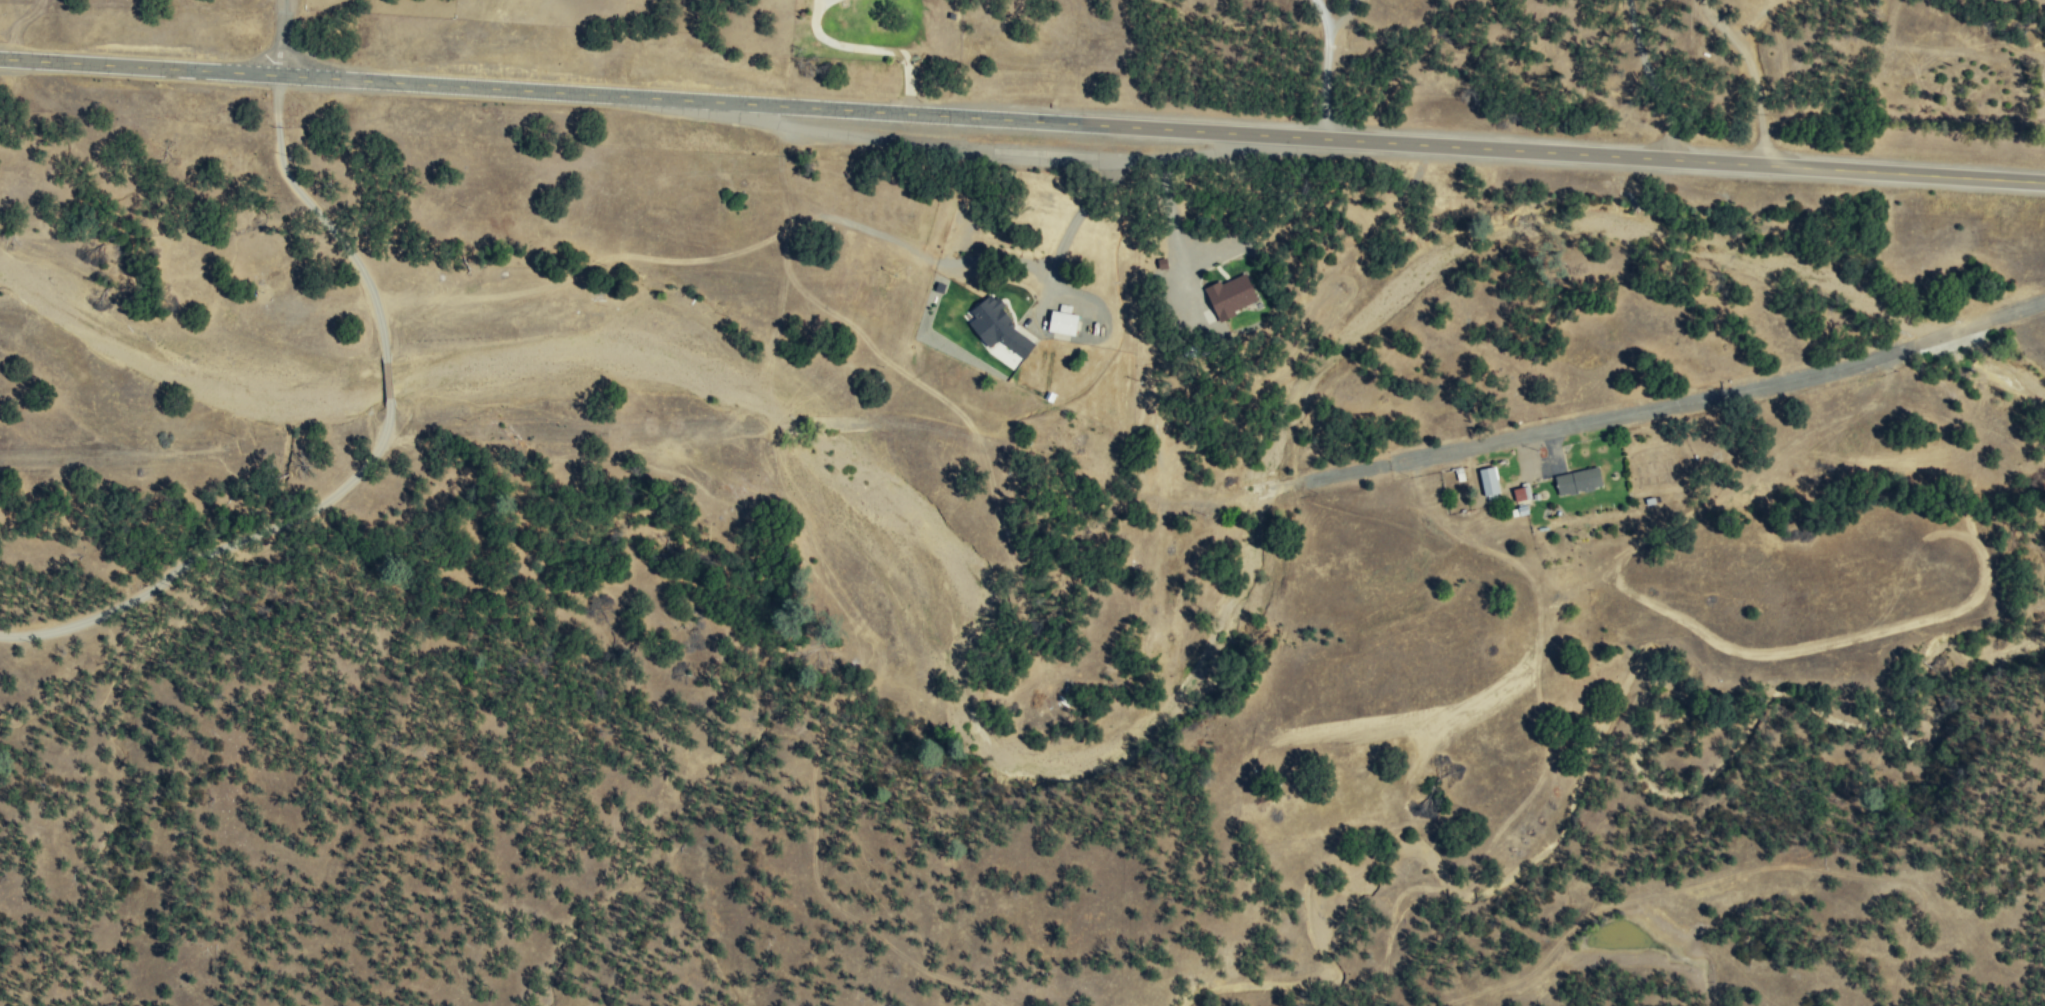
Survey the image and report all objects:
road: (284, 38)
road: (873, 49)
road: (1753, 74)
road: (1652, 78)
road: (1022, 120)
building: (1229, 295)
building: (1061, 322)
building: (997, 326)
building: (1002, 362)
road: (1802, 377)
road: (1532, 468)
road: (1342, 475)
building: (1488, 480)
building: (1577, 480)
building: (1521, 492)
building: (1519, 510)
river: (1042, 770)

